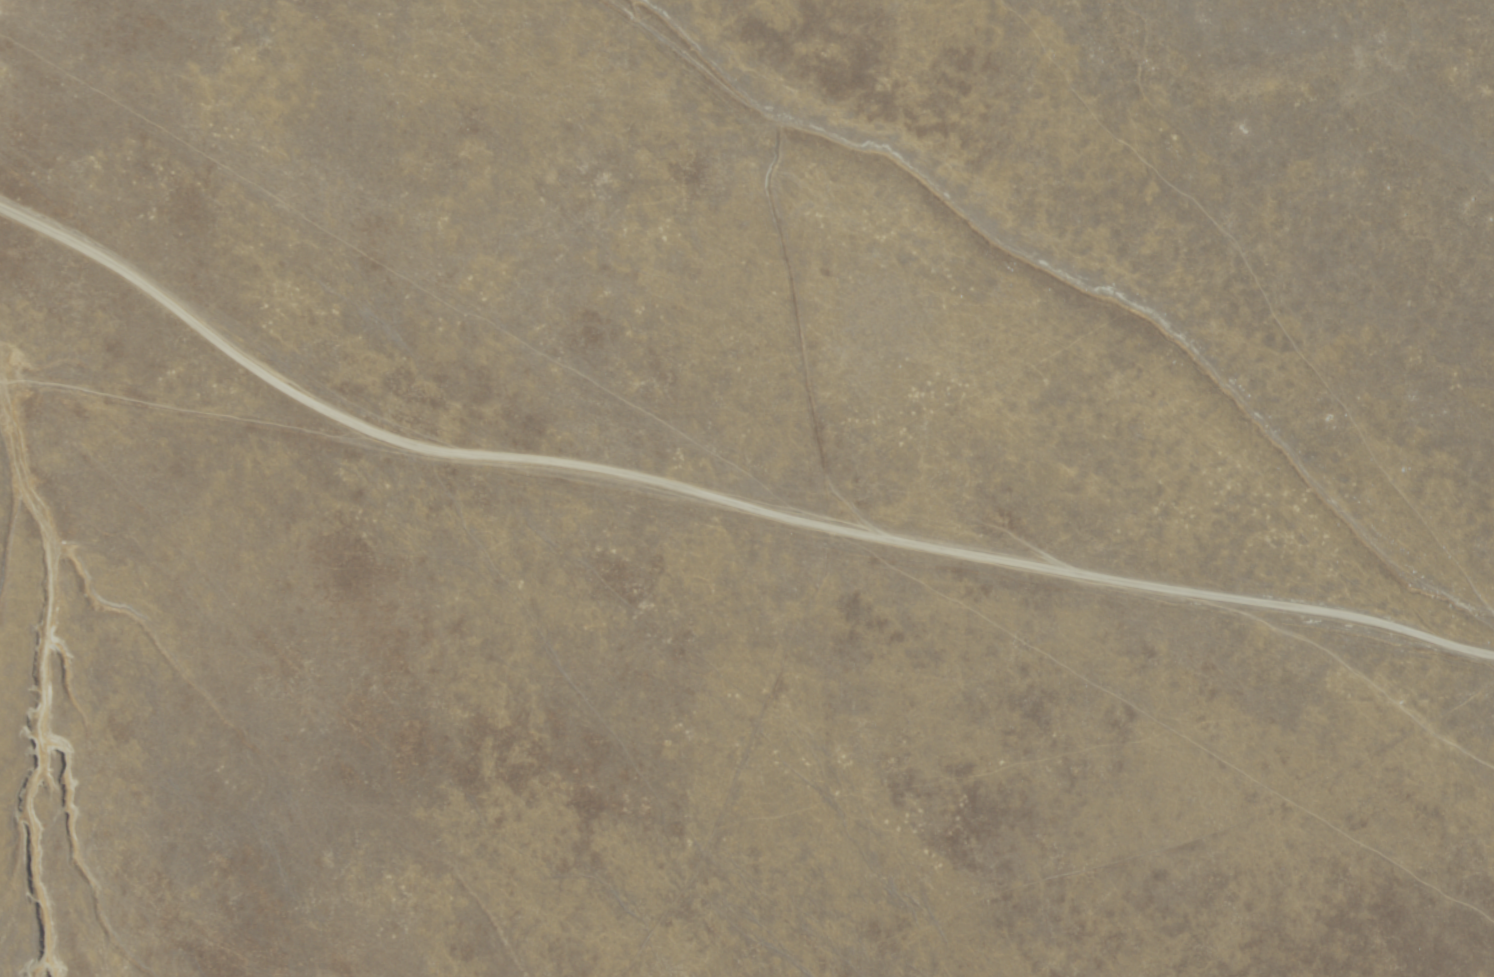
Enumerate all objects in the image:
road: (719, 507)

